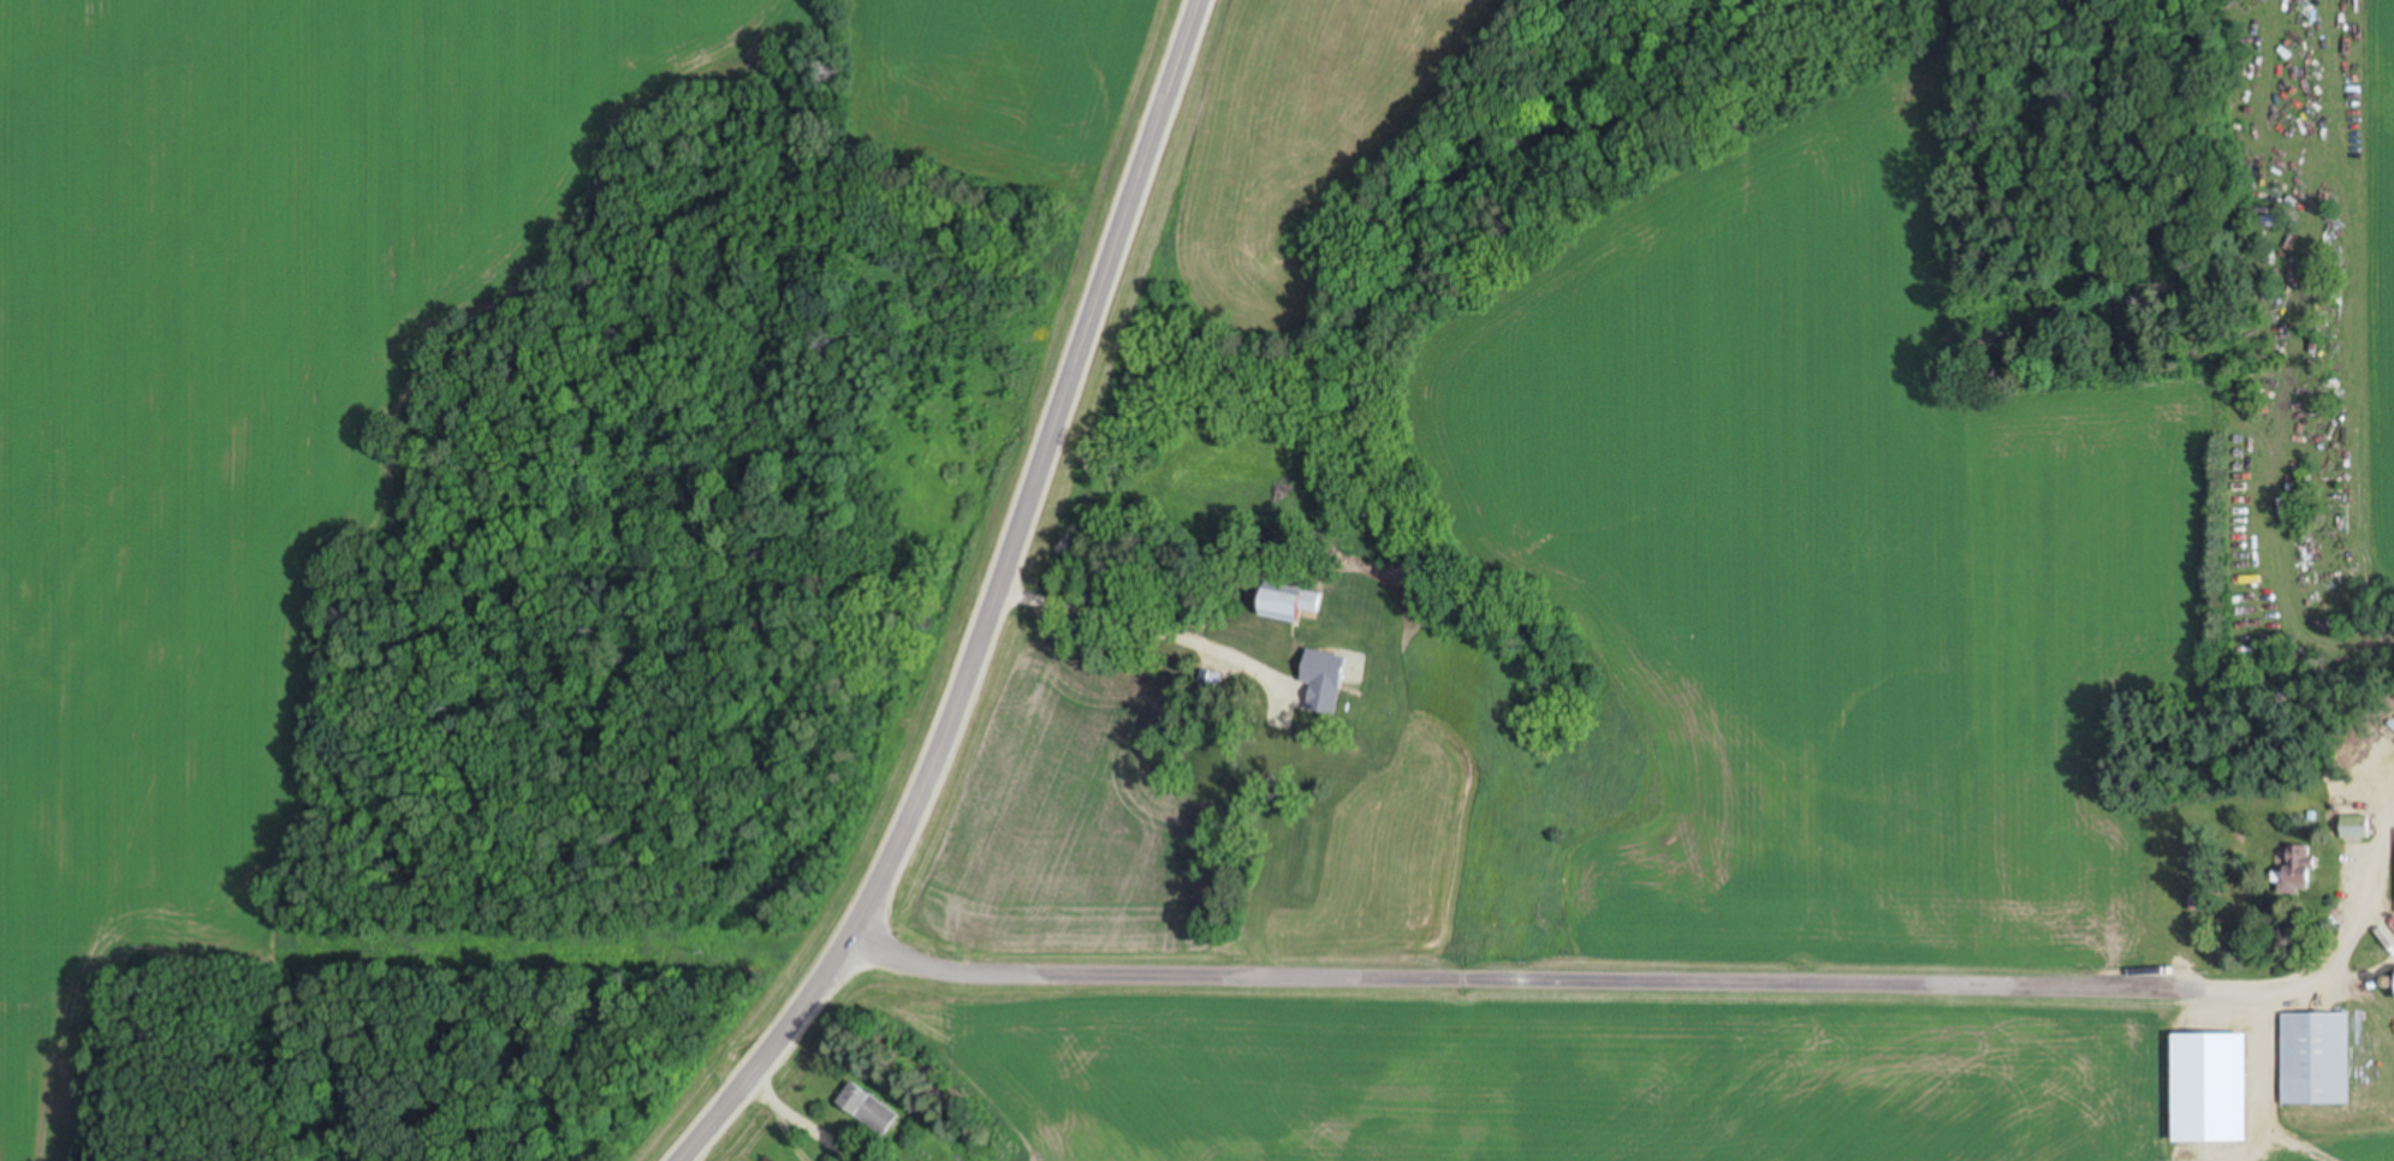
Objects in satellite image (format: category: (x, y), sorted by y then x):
building: (1285, 603)
road: (1004, 607)
building: (1267, 764)
building: (2350, 828)
building: (2292, 870)
road: (1560, 983)
building: (2392, 986)
building: (2313, 1060)
building: (868, 1109)

